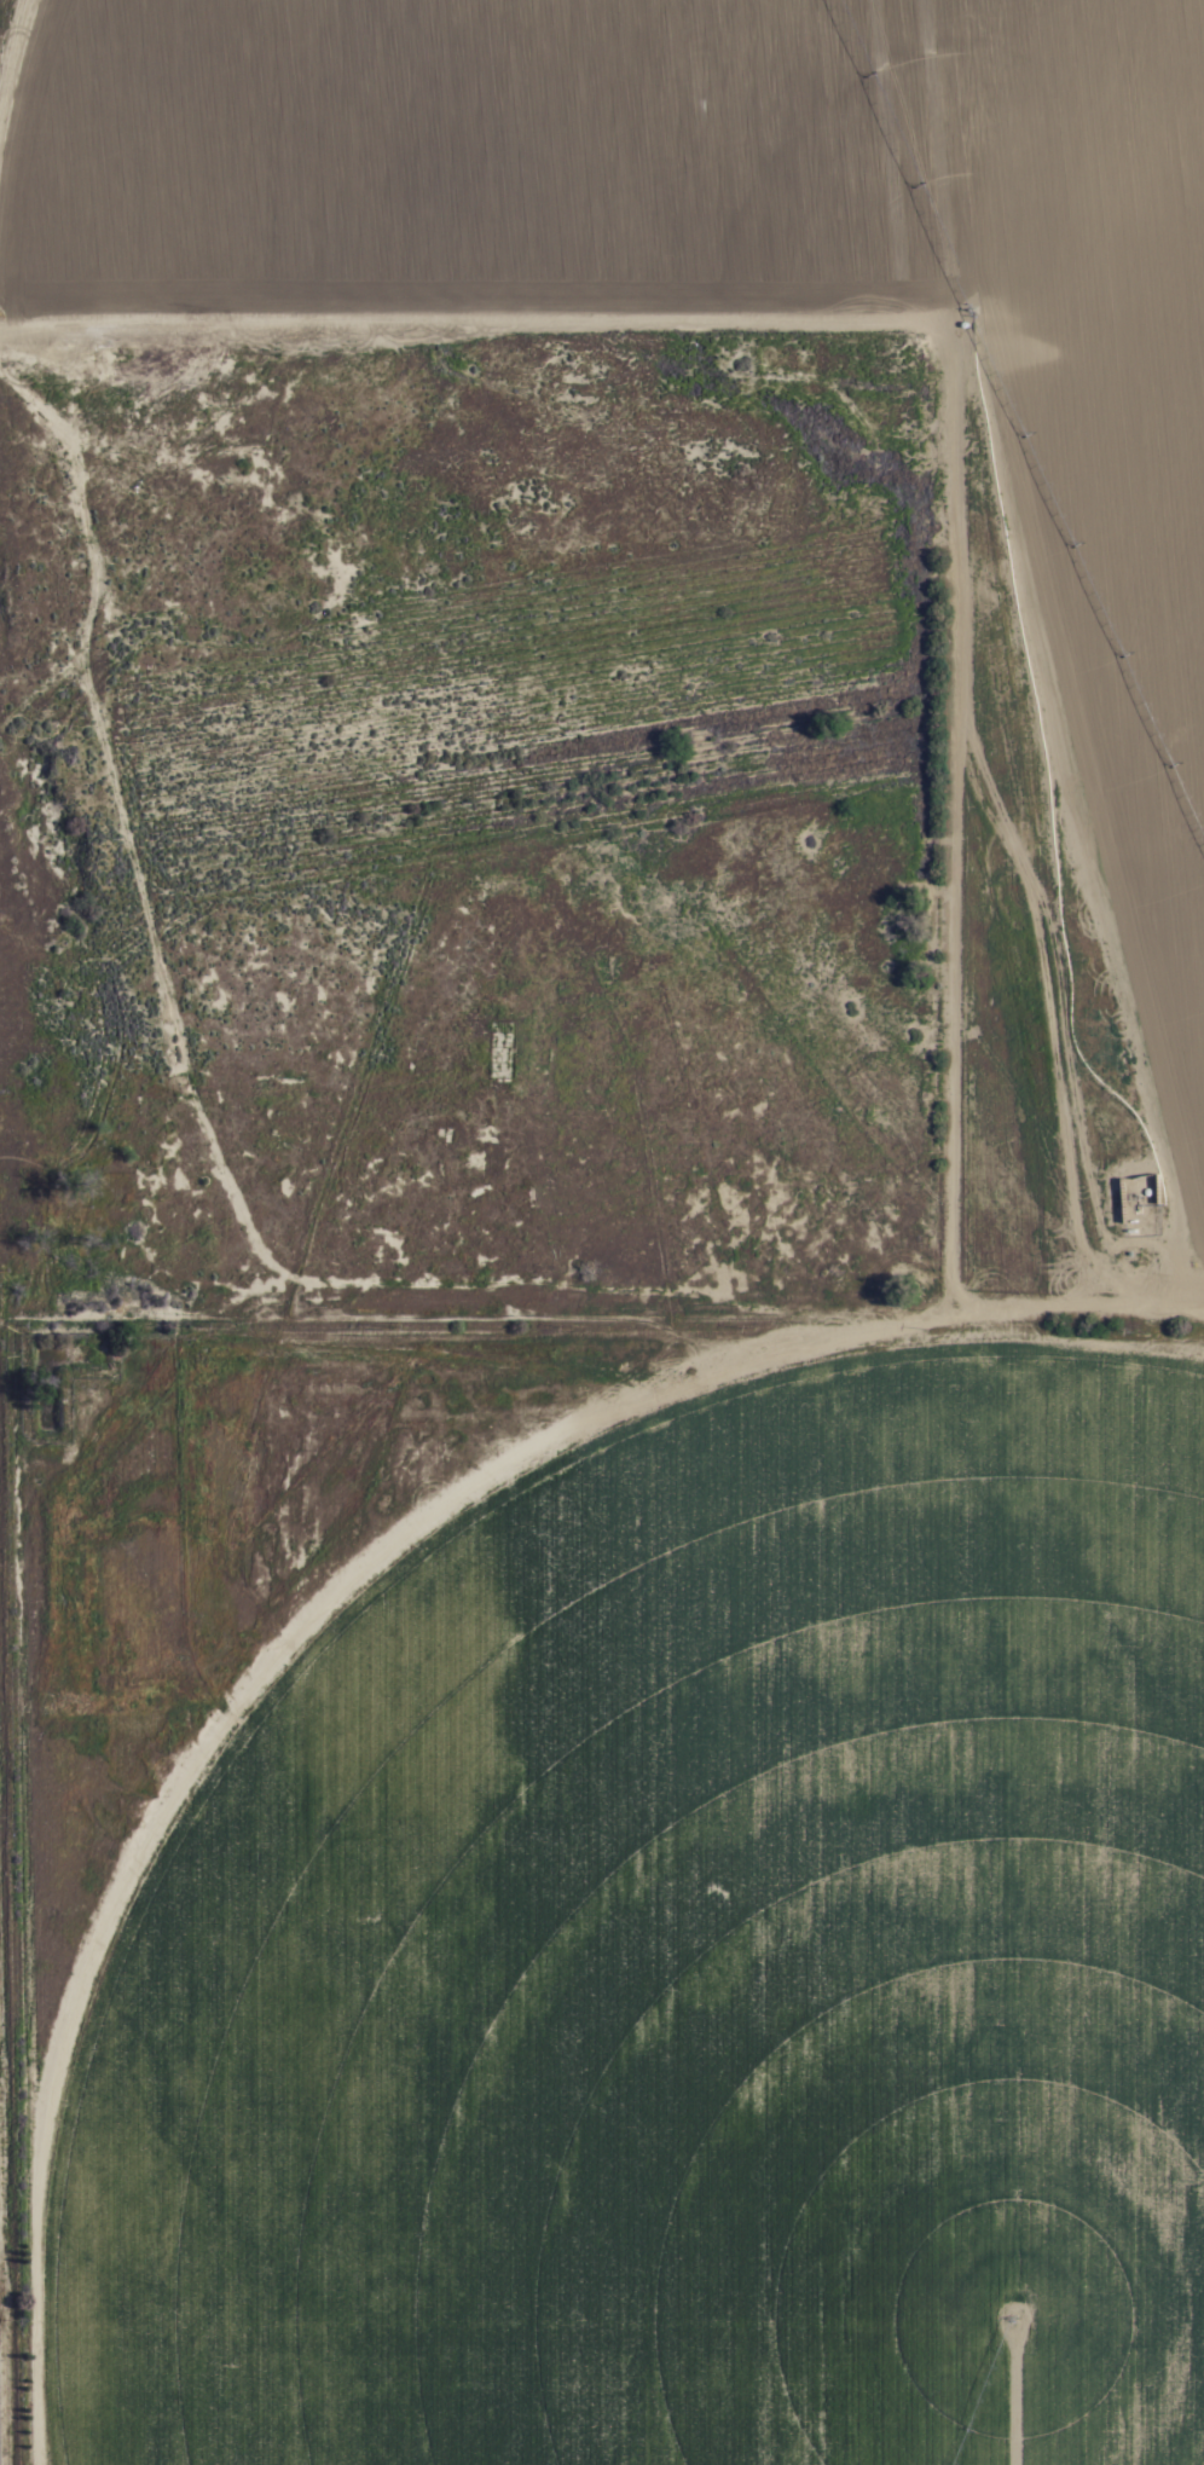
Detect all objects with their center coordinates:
building: (1117, 1199)
crop: (723, 1435)

